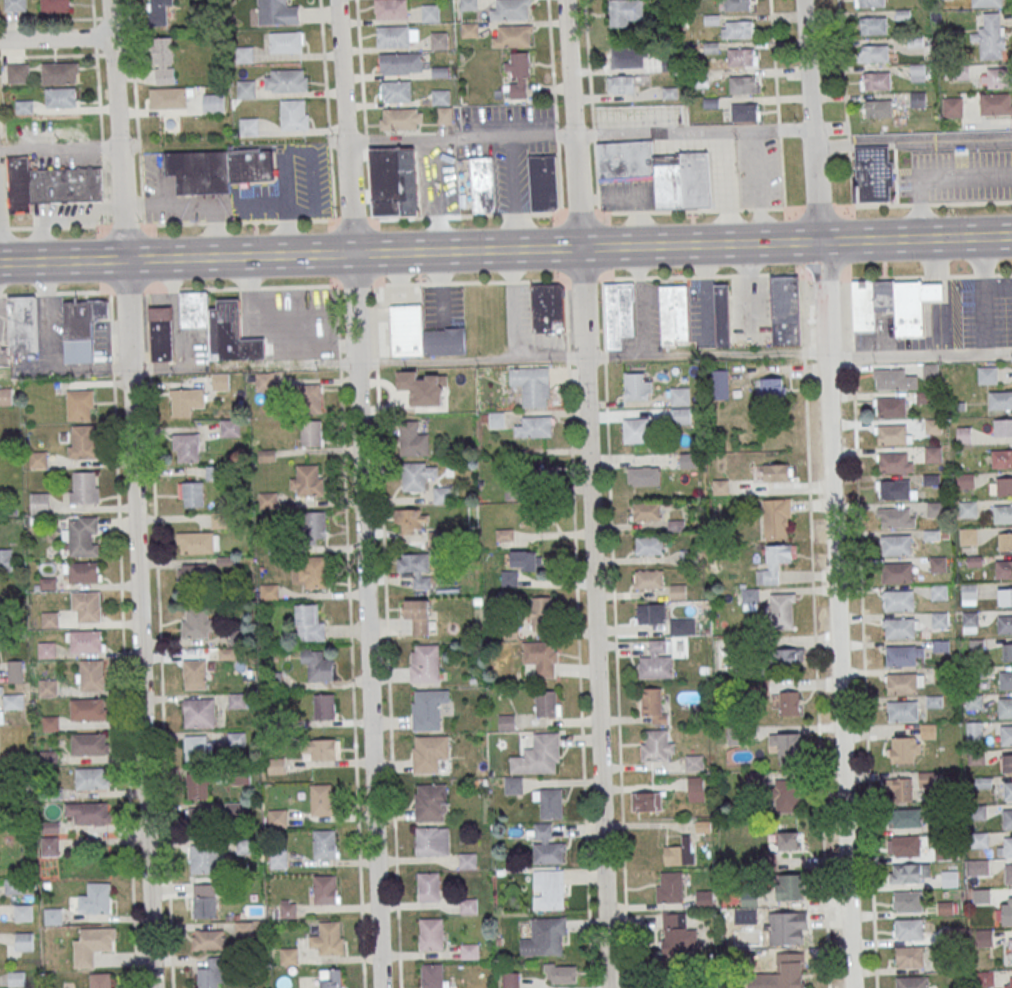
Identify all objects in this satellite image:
building: (869, 3)
building: (986, 3)
building: (468, 4)
building: (15, 5)
building: (55, 5)
building: (736, 5)
building: (390, 9)
building: (510, 10)
building: (158, 12)
building: (277, 12)
building: (624, 12)
building: (430, 13)
building: (904, 14)
road: (46, 20)
building: (872, 25)
building: (469, 29)
building: (739, 29)
building: (512, 35)
building: (393, 36)
building: (990, 36)
road: (55, 38)
building: (439, 40)
building: (286, 41)
building: (244, 54)
building: (873, 54)
road: (48, 55)
building: (629, 57)
building: (741, 57)
building: (163, 60)
building: (400, 63)
building: (18, 72)
building: (60, 72)
building: (918, 72)
building: (957, 72)
building: (518, 75)
building: (994, 78)
building: (286, 80)
building: (875, 80)
building: (620, 83)
building: (743, 85)
building: (246, 89)
building: (396, 90)
building: (60, 97)
building: (169, 98)
building: (213, 101)
road: (845, 103)
building: (995, 103)
road: (777, 104)
building: (443, 105)
building: (24, 106)
road: (554, 106)
building: (952, 107)
road: (363, 108)
road: (327, 109)
building: (879, 109)
building: (744, 111)
road: (99, 112)
road: (136, 112)
building: (294, 114)
building: (400, 118)
building: (249, 126)
road: (579, 135)
road: (912, 138)
parking lot: (507, 145)
road: (59, 148)
building: (199, 171)
building: (659, 171)
parking lot: (744, 171)
building: (874, 176)
parking lot: (958, 176)
parking lot: (437, 179)
building: (394, 181)
building: (543, 182)
building: (50, 184)
building: (482, 184)
road: (727, 187)
road: (757, 187)
road: (511, 193)
road: (438, 194)
parking lot: (178, 197)
road: (632, 198)
road: (193, 201)
road: (287, 207)
road: (698, 209)
road: (299, 220)
road: (519, 249)
road: (933, 262)
road: (13, 263)
road: (506, 281)
road: (935, 294)
road: (984, 294)
building: (872, 303)
building: (547, 307)
building: (914, 307)
building: (785, 310)
building: (617, 312)
parking lot: (701, 312)
building: (674, 313)
building: (722, 315)
parking lot: (644, 317)
building: (83, 318)
parking lot: (527, 323)
building: (22, 324)
building: (219, 327)
road: (936, 328)
building: (161, 334)
building: (422, 334)
road: (51, 352)
road: (706, 353)
road: (920, 353)
road: (470, 359)
road: (166, 366)
building: (930, 370)
building: (987, 375)
building: (895, 378)
building: (532, 384)
building: (718, 384)
building: (637, 386)
building: (769, 387)
building: (5, 396)
building: (680, 396)
building: (924, 396)
building: (312, 398)
building: (1000, 400)
building: (186, 401)
building: (79, 404)
building: (891, 407)
building: (681, 415)
building: (496, 419)
building: (933, 425)
building: (230, 427)
building: (535, 427)
building: (1002, 427)
building: (636, 430)
building: (312, 432)
building: (892, 434)
building: (963, 434)
building: (413, 439)
building: (82, 442)
building: (186, 447)
building: (933, 454)
building: (1001, 458)
building: (38, 459)
building: (688, 460)
building: (895, 462)
building: (777, 472)
building: (418, 475)
building: (544, 475)
building: (643, 476)
building: (965, 480)
building: (308, 481)
building: (1000, 485)
building: (720, 486)
building: (82, 489)
building: (894, 489)
road: (134, 493)
road: (362, 493)
road: (589, 493)
road: (833, 493)
building: (191, 494)
building: (512, 494)
building: (443, 495)
building: (267, 499)
building: (39, 503)
building: (968, 508)
building: (935, 509)
building: (646, 510)
building: (1002, 514)
building: (776, 516)
building: (531, 517)
building: (896, 517)
building: (411, 519)
building: (315, 525)
building: (82, 536)
building: (968, 536)
building: (1005, 541)
building: (197, 542)
building: (649, 545)
building: (897, 545)
building: (6, 559)
building: (775, 563)
building: (938, 563)
building: (521, 565)
building: (416, 569)
building: (1004, 569)
building: (192, 570)
building: (311, 571)
building: (83, 572)
building: (897, 572)
building: (648, 579)
building: (678, 591)
building: (969, 591)
building: (938, 592)
building: (1005, 597)
building: (750, 598)
building: (899, 600)
building: (87, 605)
building: (782, 610)
building: (542, 612)
building: (651, 613)
building: (418, 615)
building: (969, 618)
building: (939, 619)
building: (196, 622)
building: (309, 623)
building: (1004, 623)
building: (682, 626)
building: (900, 628)
road: (814, 630)
road: (578, 633)
road: (615, 633)
road: (862, 633)
road: (351, 636)
road: (387, 636)
road: (123, 638)
road: (159, 639)
building: (86, 641)
building: (941, 645)
building: (1007, 652)
building: (901, 655)
building: (542, 657)
building: (788, 657)
building: (657, 660)
building: (425, 663)
building: (317, 665)
building: (15, 670)
building: (195, 674)
building: (93, 675)
building: (1006, 679)
building: (903, 683)
building: (48, 687)
building: (237, 700)
building: (11, 701)
building: (973, 701)
building: (789, 702)
building: (548, 703)
building: (653, 703)
building: (325, 706)
building: (1005, 707)
building: (88, 709)
building: (427, 709)
building: (903, 710)
building: (198, 712)
building: (50, 723)
building: (928, 730)
building: (974, 730)
building: (736, 735)
building: (1006, 735)
building: (237, 739)
building: (89, 744)
building: (657, 746)
building: (788, 747)
building: (198, 749)
building: (319, 749)
building: (904, 750)
building: (429, 752)
building: (538, 754)
building: (976, 757)
building: (694, 763)
building: (1007, 763)
building: (275, 765)
building: (92, 778)
building: (927, 779)
building: (514, 784)
building: (197, 785)
building: (695, 788)
building: (901, 789)
building: (1008, 790)
building: (786, 795)
building: (321, 799)
building: (646, 801)
building: (430, 802)
building: (551, 803)
building: (89, 812)
building: (978, 812)
building: (200, 817)
building: (906, 817)
building: (277, 818)
building: (1008, 819)
building: (979, 839)
building: (432, 840)
building: (325, 844)
building: (546, 844)
building: (906, 845)
building: (246, 846)
building: (1007, 846)
building: (50, 848)
building: (680, 852)
building: (204, 858)
building: (279, 859)
building: (467, 859)
building: (980, 867)
building: (908, 873)
building: (1008, 873)
building: (949, 878)
building: (14, 885)
building: (428, 886)
building: (670, 886)
building: (790, 886)
building: (550, 887)
building: (324, 889)
building: (981, 895)
building: (705, 898)
building: (749, 898)
building: (95, 899)
building: (907, 900)
building: (468, 905)
building: (204, 907)
building: (288, 909)
building: (1006, 910)
building: (23, 912)
building: (52, 916)
building: (787, 928)
building: (908, 928)
building: (678, 932)
building: (431, 933)
building: (549, 933)
building: (984, 937)
building: (208, 939)
building: (328, 939)
building: (24, 941)
building: (92, 944)
building: (470, 951)
building: (1010, 951)
building: (289, 955)
building: (909, 956)
building: (789, 971)
building: (211, 973)
building: (561, 973)
building: (433, 975)
building: (16, 977)
building: (985, 977)
building: (330, 978)
building: (100, 980)
building: (510, 980)
building: (1010, 981)
building: (911, 982)

